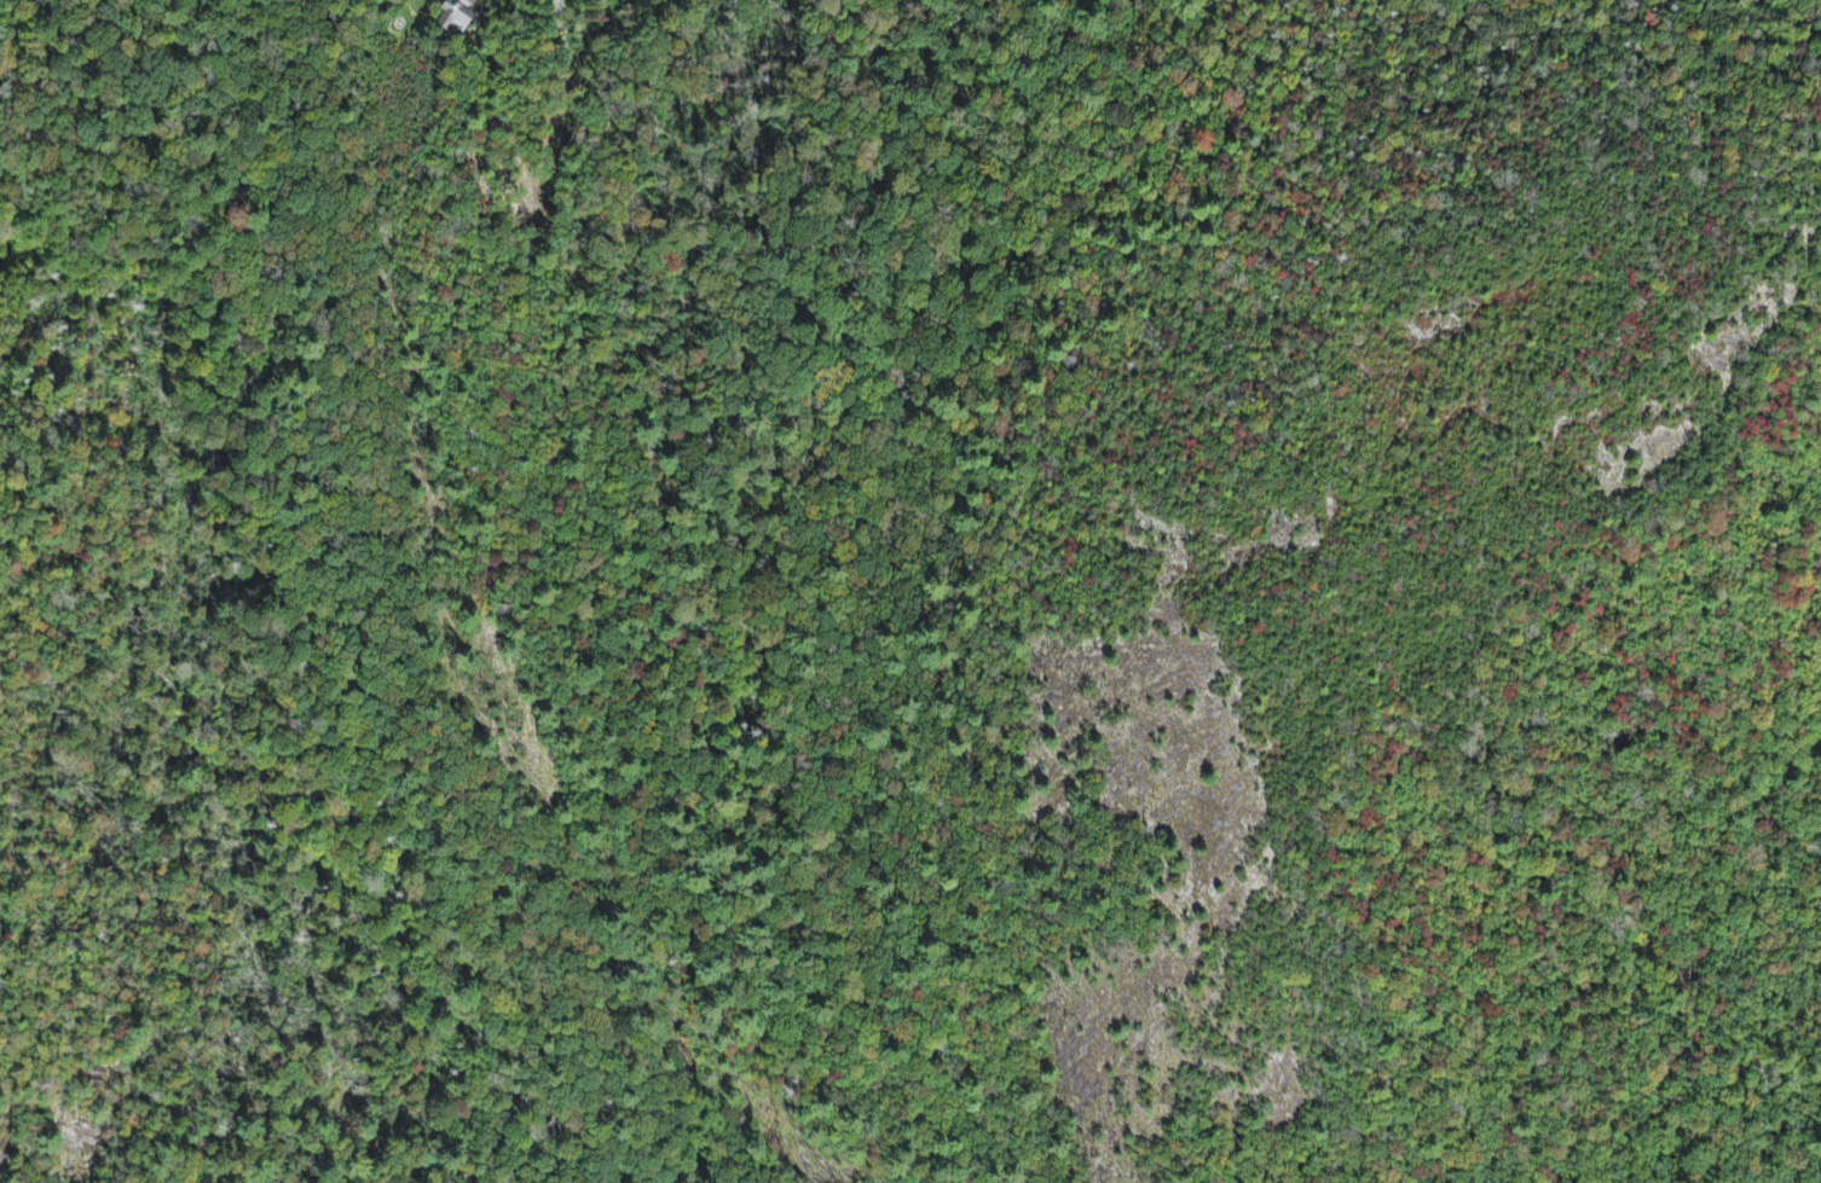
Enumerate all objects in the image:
building: (491, 0)
building: (457, 18)

